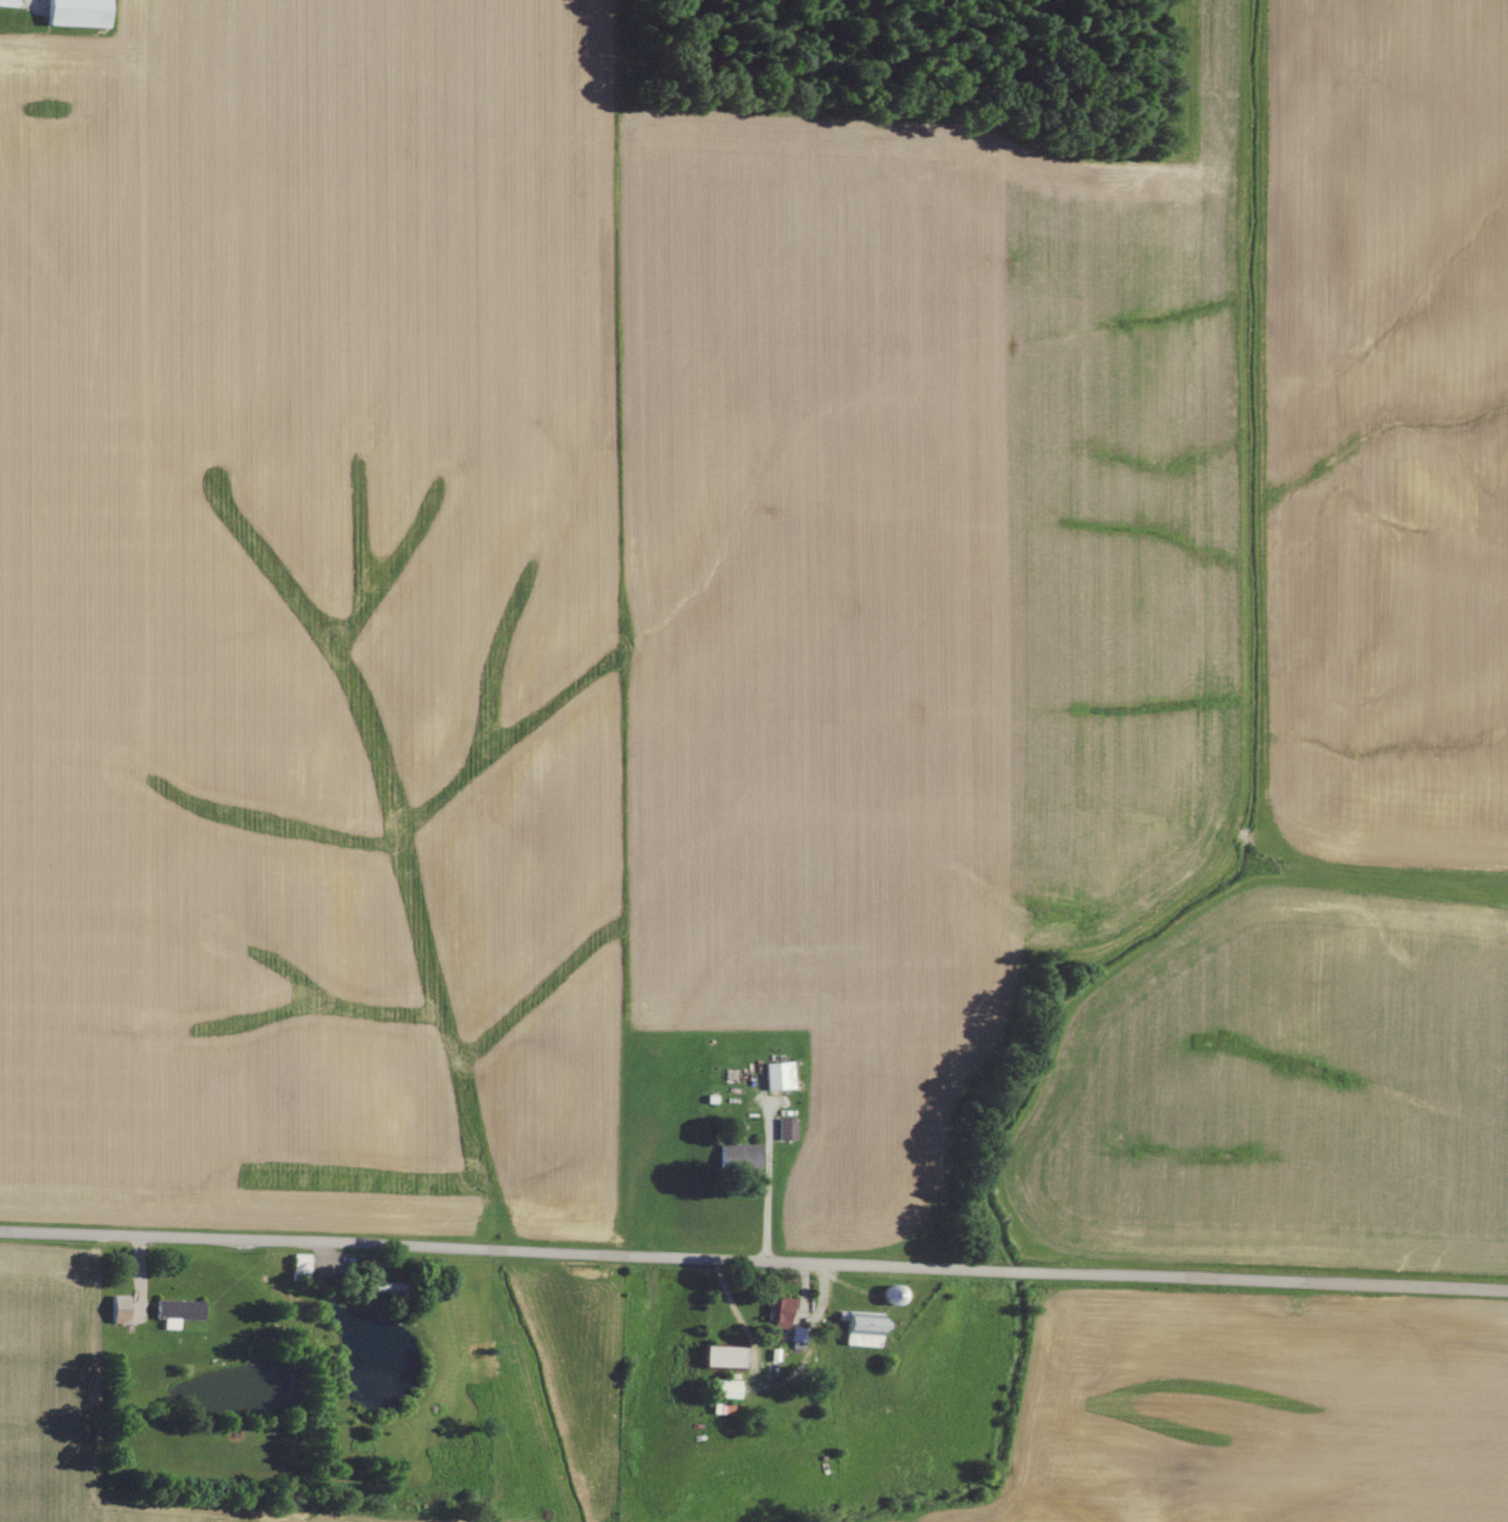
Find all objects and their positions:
building: (7, 3)
building: (77, 13)
building: (779, 1076)
building: (786, 1129)
building: (748, 1157)
road: (753, 1263)
building: (300, 1268)
building: (892, 1295)
building: (176, 1312)
building: (780, 1313)
building: (862, 1330)
building: (797, 1340)
building: (723, 1357)
building: (727, 1389)
crop: (76, 1405)

